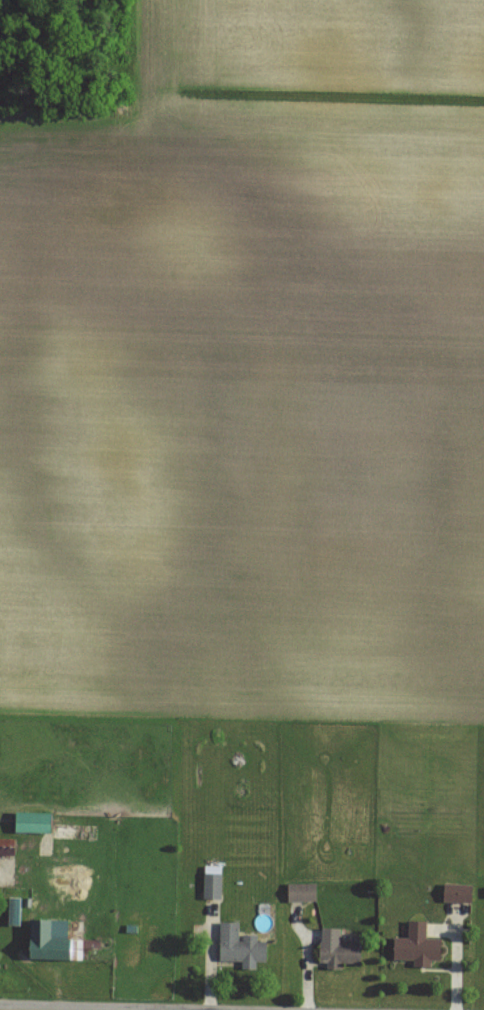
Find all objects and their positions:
building: (35, 822)
building: (211, 882)
building: (299, 893)
building: (456, 894)
building: (54, 940)
building: (238, 946)
building: (415, 946)
building: (335, 950)
road: (98, 1007)

